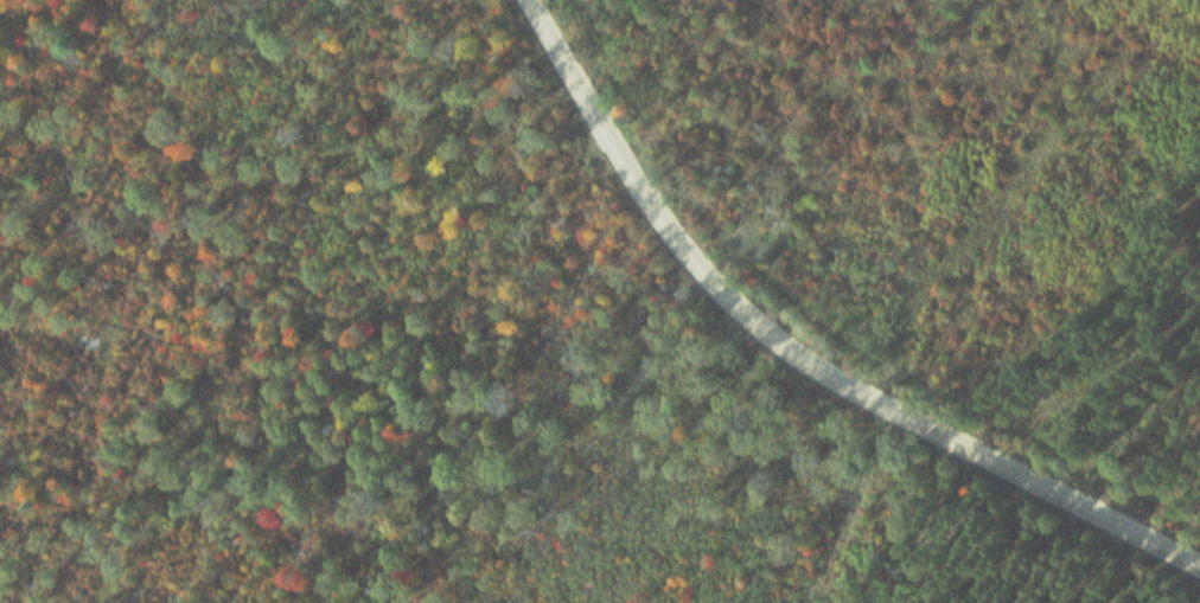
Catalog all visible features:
road: (797, 359)

